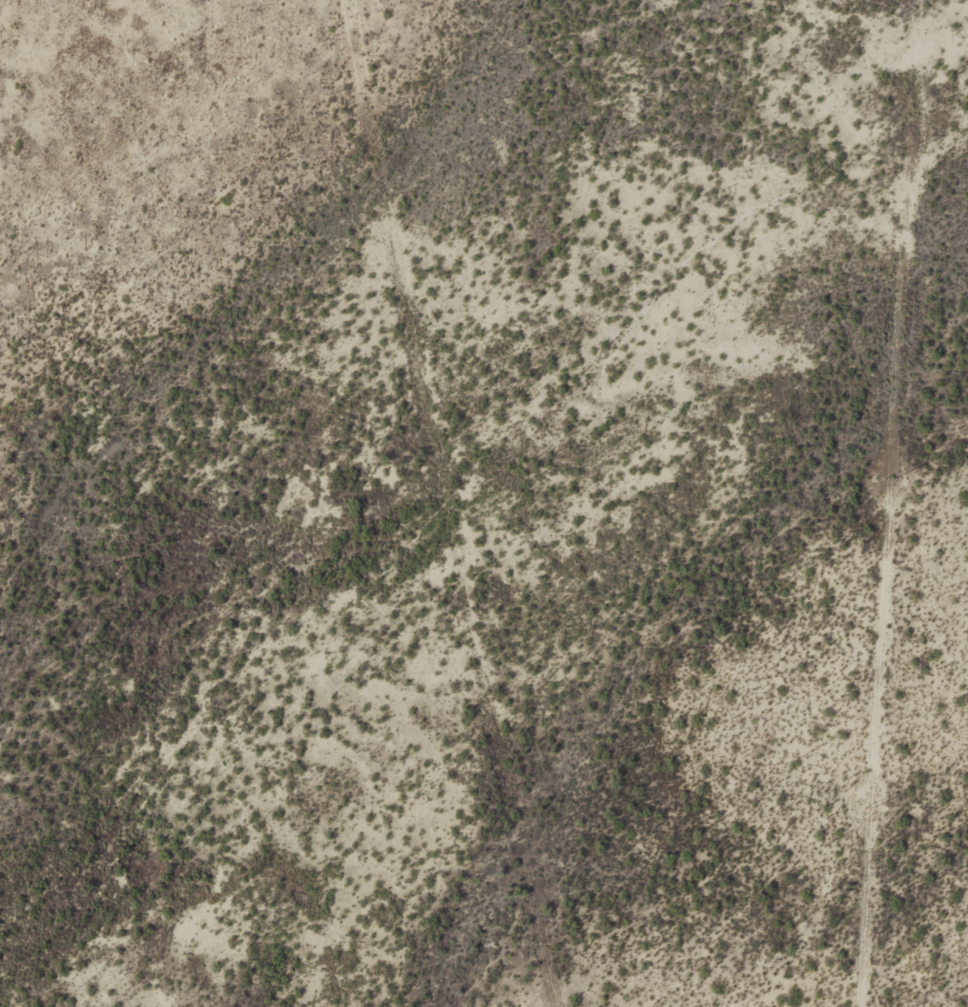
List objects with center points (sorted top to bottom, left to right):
power tower: (909, 150)
power tower: (889, 479)
power tower: (869, 808)

